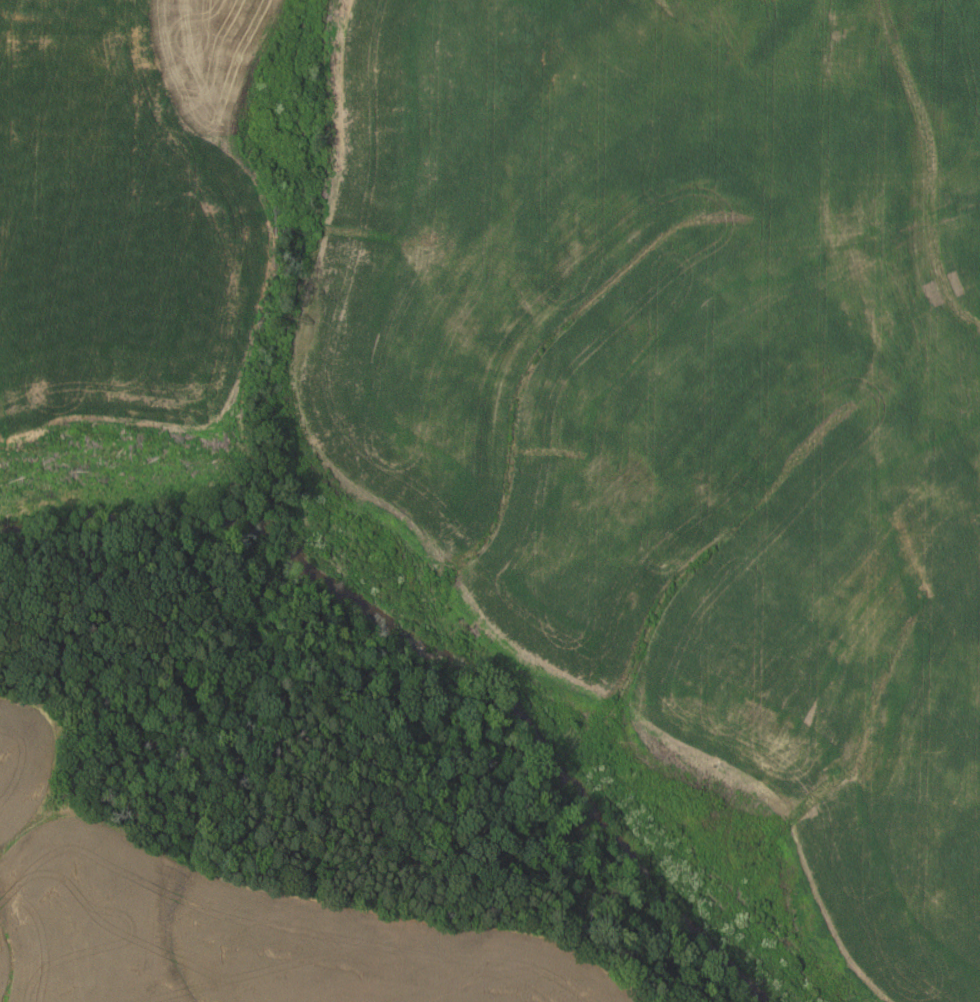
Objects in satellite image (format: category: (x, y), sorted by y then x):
crop: (125, 208)
crop: (696, 393)
crop: (231, 920)

